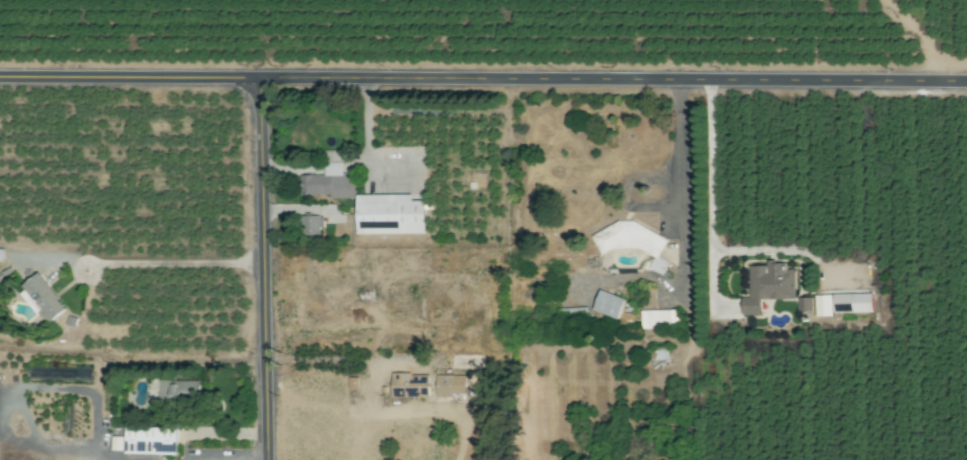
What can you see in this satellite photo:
road: (483, 79)
road: (364, 133)
road: (681, 186)
building: (369, 203)
road: (708, 208)
building: (312, 227)
building: (338, 231)
building: (631, 238)
road: (762, 249)
road: (174, 263)
road: (265, 269)
building: (0, 280)
building: (768, 286)
building: (45, 298)
building: (852, 304)
building: (609, 305)
building: (573, 317)
building: (658, 320)
building: (660, 358)
building: (411, 386)
building: (446, 387)
building: (180, 394)
road: (6, 410)
road: (382, 415)
building: (152, 442)
road: (83, 444)
road: (227, 459)

